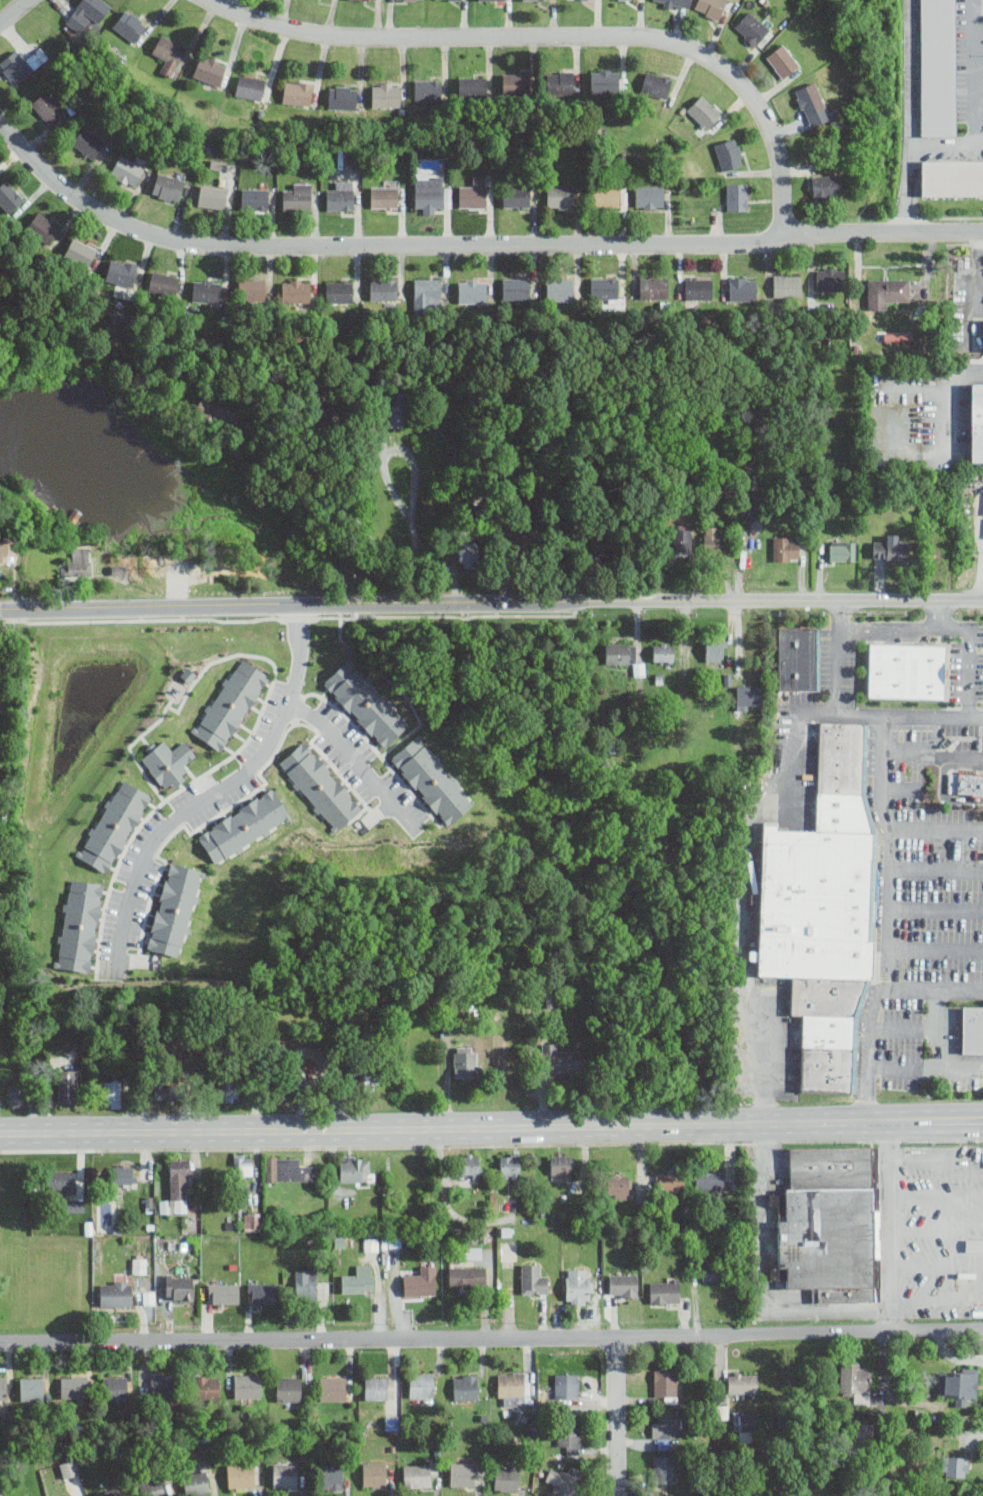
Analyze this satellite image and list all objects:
building: (484, 0)
building: (528, 0)
park: (3, 2)
building: (673, 2)
road: (978, 6)
building: (710, 7)
road: (14, 12)
building: (88, 13)
building: (129, 25)
building: (752, 28)
road: (559, 36)
building: (169, 53)
building: (37, 57)
building: (782, 60)
building: (939, 66)
building: (16, 67)
building: (209, 70)
road: (974, 71)
building: (608, 81)
building: (560, 82)
building: (515, 83)
building: (656, 84)
building: (250, 87)
building: (472, 87)
building: (428, 89)
building: (297, 92)
building: (386, 95)
building: (342, 97)
building: (808, 98)
building: (47, 106)
building: (704, 111)
road: (908, 116)
building: (88, 142)
road: (945, 143)
building: (729, 153)
building: (127, 170)
building: (953, 178)
building: (168, 186)
building: (825, 186)
building: (430, 192)
building: (606, 195)
building: (9, 196)
building: (212, 196)
road: (356, 196)
building: (516, 196)
building: (649, 196)
building: (738, 196)
building: (298, 197)
building: (384, 197)
building: (472, 197)
building: (560, 197)
building: (255, 199)
building: (340, 199)
building: (42, 227)
road: (472, 247)
building: (80, 251)
building: (121, 271)
building: (829, 279)
building: (163, 283)
building: (787, 285)
building: (603, 287)
building: (653, 287)
building: (252, 288)
building: (427, 288)
building: (516, 288)
building: (560, 288)
building: (698, 288)
building: (742, 288)
building: (383, 289)
building: (206, 290)
building: (295, 291)
building: (339, 291)
building: (472, 291)
building: (885, 291)
building: (914, 332)
building: (978, 332)
road: (945, 401)
building: (321, 411)
building: (394, 413)
building: (217, 414)
building: (977, 422)
road: (415, 471)
building: (756, 515)
road: (286, 518)
road: (357, 520)
building: (682, 538)
building: (714, 538)
building: (521, 542)
building: (602, 543)
building: (8, 547)
building: (786, 548)
building: (891, 548)
building: (561, 549)
building: (842, 550)
building: (468, 554)
building: (81, 561)
road: (491, 604)
road: (885, 630)
road: (968, 640)
building: (716, 650)
building: (664, 652)
building: (620, 653)
road: (835, 656)
building: (799, 658)
building: (639, 668)
building: (909, 671)
building: (748, 696)
building: (366, 701)
building: (231, 703)
road: (909, 714)
road: (793, 745)
road: (933, 754)
road: (352, 759)
building: (168, 762)
road: (882, 770)
building: (433, 778)
building: (967, 784)
building: (320, 785)
road: (900, 788)
road: (211, 793)
building: (113, 825)
building: (245, 825)
road: (937, 868)
road: (936, 907)
building: (176, 908)
building: (826, 910)
building: (79, 925)
road: (887, 929)
road: (935, 947)
road: (933, 988)
road: (903, 1028)
road: (936, 1029)
building: (974, 1029)
building: (562, 1059)
building: (465, 1064)
road: (758, 1064)
road: (925, 1068)
building: (365, 1080)
building: (67, 1086)
building: (282, 1088)
building: (228, 1089)
building: (163, 1090)
building: (112, 1093)
building: (16, 1096)
road: (491, 1127)
road: (935, 1160)
building: (244, 1164)
building: (470, 1165)
building: (510, 1165)
building: (561, 1165)
building: (355, 1168)
building: (289, 1169)
building: (124, 1175)
building: (710, 1181)
building: (62, 1182)
building: (671, 1182)
building: (178, 1185)
building: (619, 1186)
road: (936, 1195)
building: (76, 1205)
building: (251, 1220)
building: (832, 1222)
road: (889, 1226)
road: (933, 1229)
road: (980, 1230)
building: (371, 1243)
building: (974, 1245)
building: (482, 1255)
building: (140, 1264)
road: (937, 1265)
building: (712, 1270)
building: (467, 1275)
road: (759, 1276)
building: (359, 1278)
building: (533, 1279)
building: (420, 1282)
building: (305, 1284)
building: (577, 1285)
building: (623, 1285)
building: (179, 1287)
building: (665, 1290)
building: (115, 1293)
building: (262, 1293)
building: (223, 1294)
road: (937, 1299)
road: (491, 1339)
building: (981, 1346)
building: (856, 1381)
building: (665, 1382)
building: (742, 1384)
building: (959, 1384)
building: (162, 1385)
building: (421, 1385)
building: (567, 1386)
building: (3, 1387)
building: (74, 1387)
building: (207, 1387)
building: (248, 1387)
building: (465, 1387)
building: (31, 1388)
building: (115, 1388)
building: (289, 1388)
building: (376, 1388)
building: (513, 1388)
building: (332, 1389)
road: (615, 1417)
building: (748, 1420)
building: (392, 1423)
building: (671, 1425)
building: (863, 1434)
building: (569, 1436)
building: (959, 1465)
building: (69, 1467)
building: (664, 1469)
building: (464, 1472)
building: (270, 1474)
building: (374, 1474)
building: (241, 1475)
building: (285, 1475)
building: (417, 1475)
building: (331, 1477)
building: (506, 1479)
building: (561, 1482)
building: (196, 1483)
building: (152, 1487)
building: (109, 1492)

